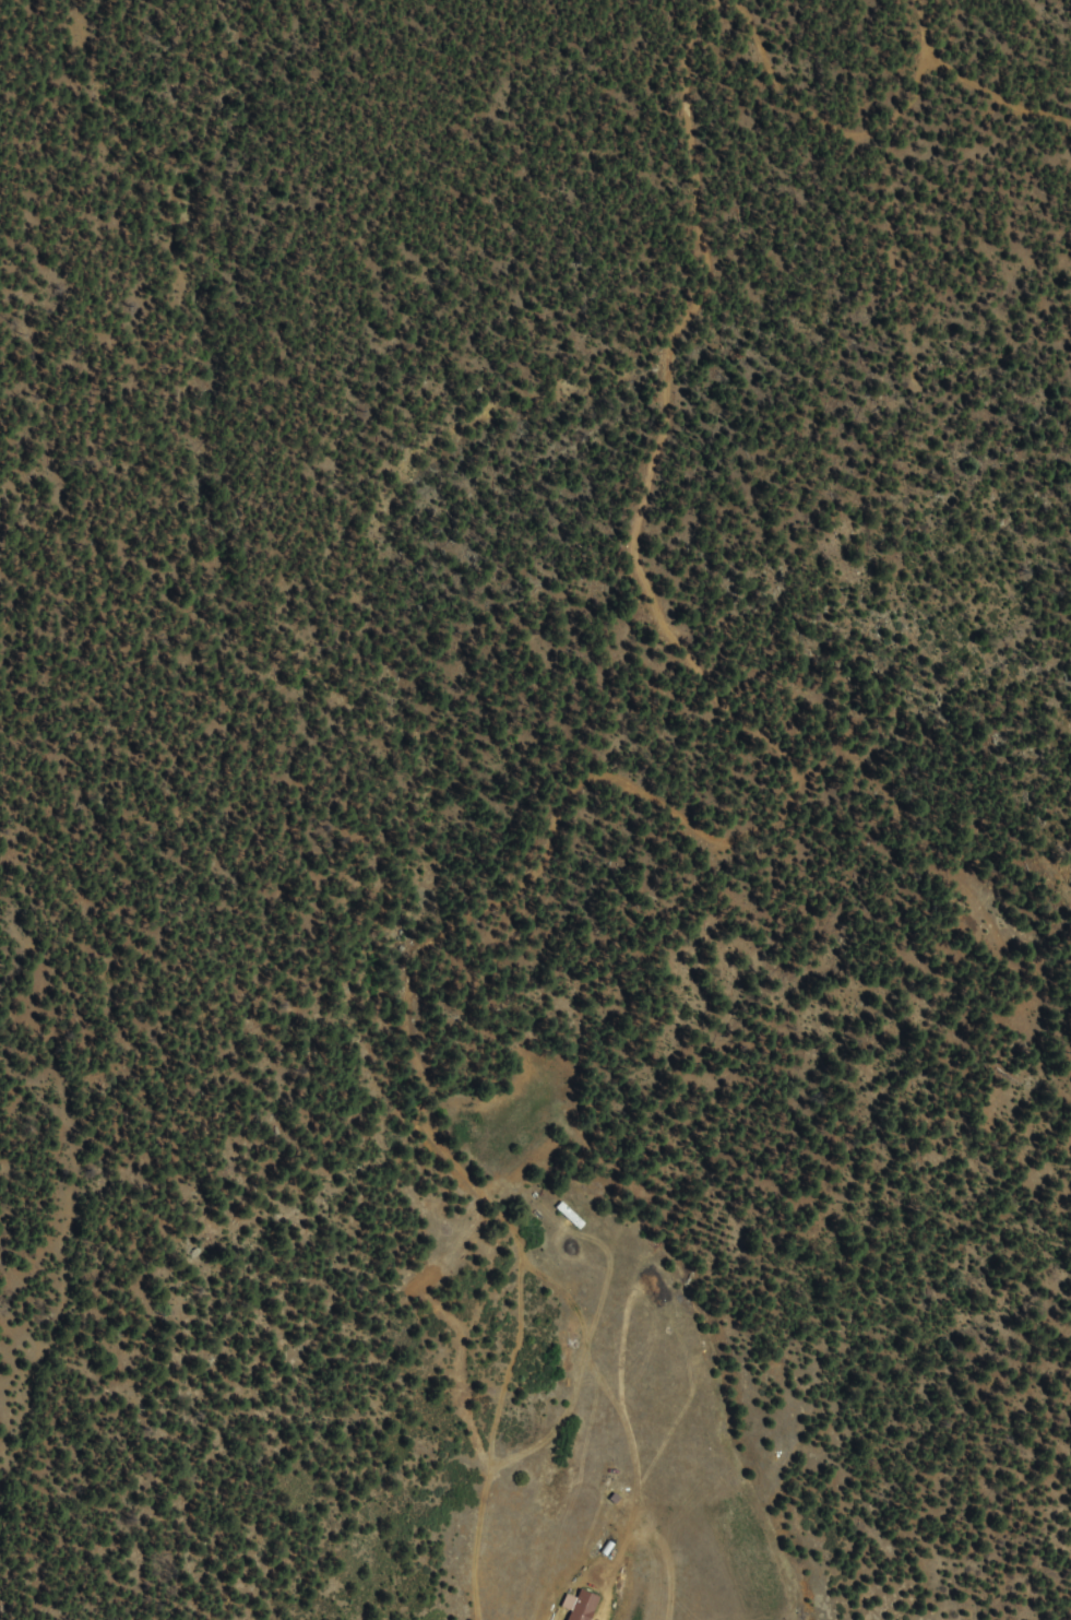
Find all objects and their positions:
building: (584, 1606)

